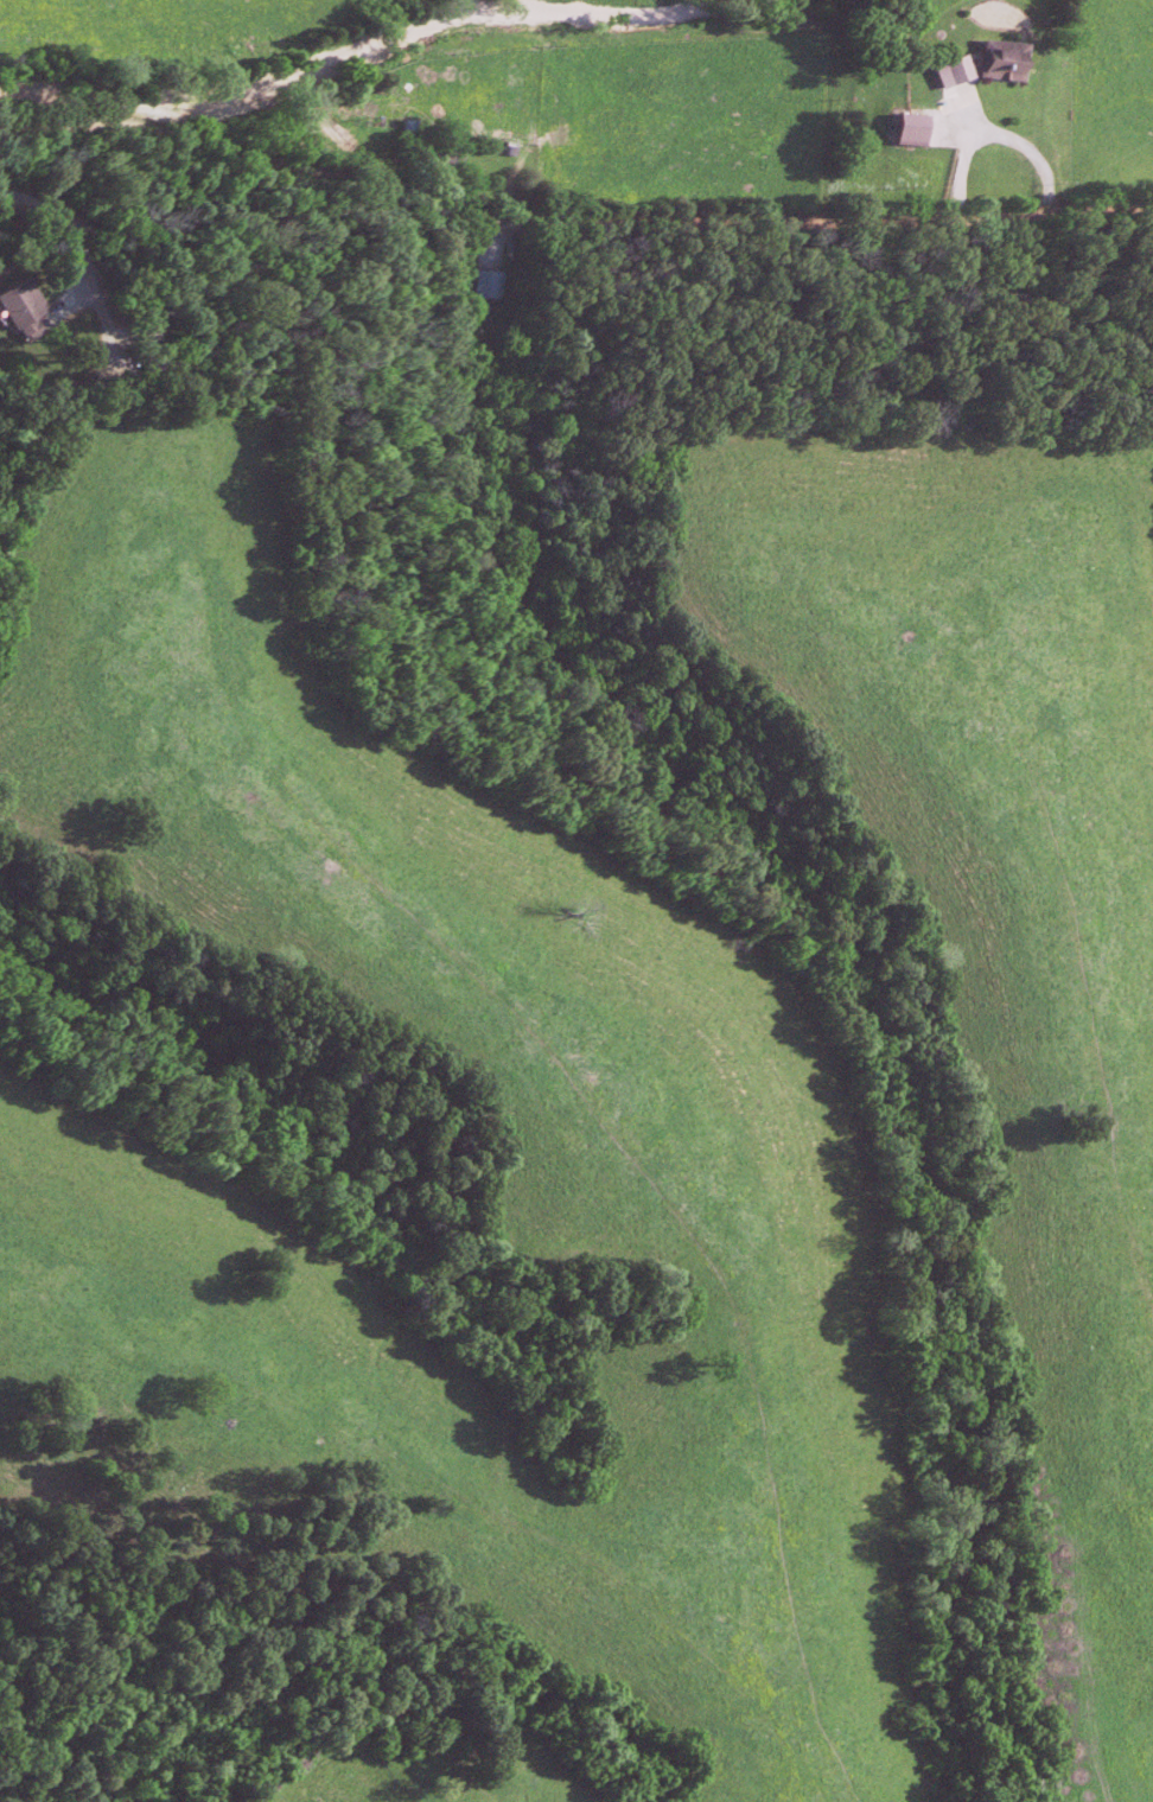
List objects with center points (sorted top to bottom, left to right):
road: (400, 44)
building: (993, 59)
building: (943, 71)
building: (903, 128)
road: (64, 227)
building: (480, 284)
building: (17, 303)

